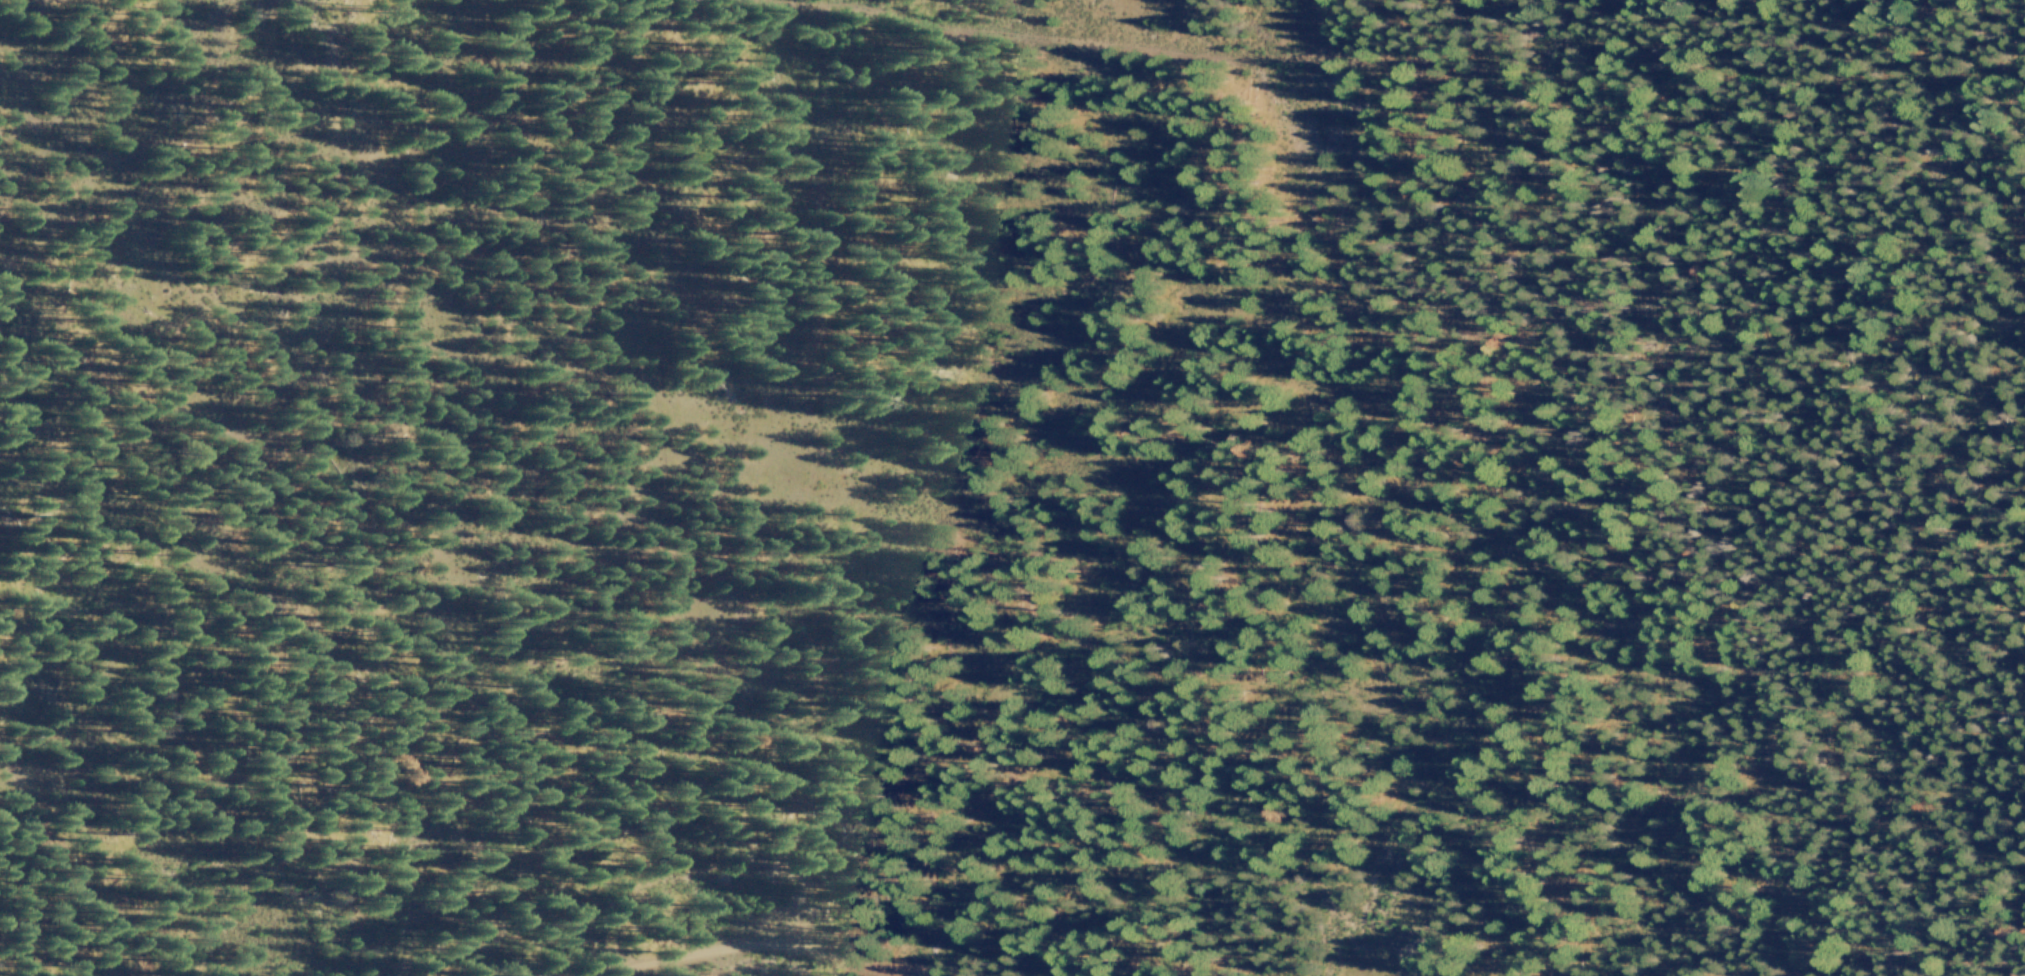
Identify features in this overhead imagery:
road: (798, 944)

